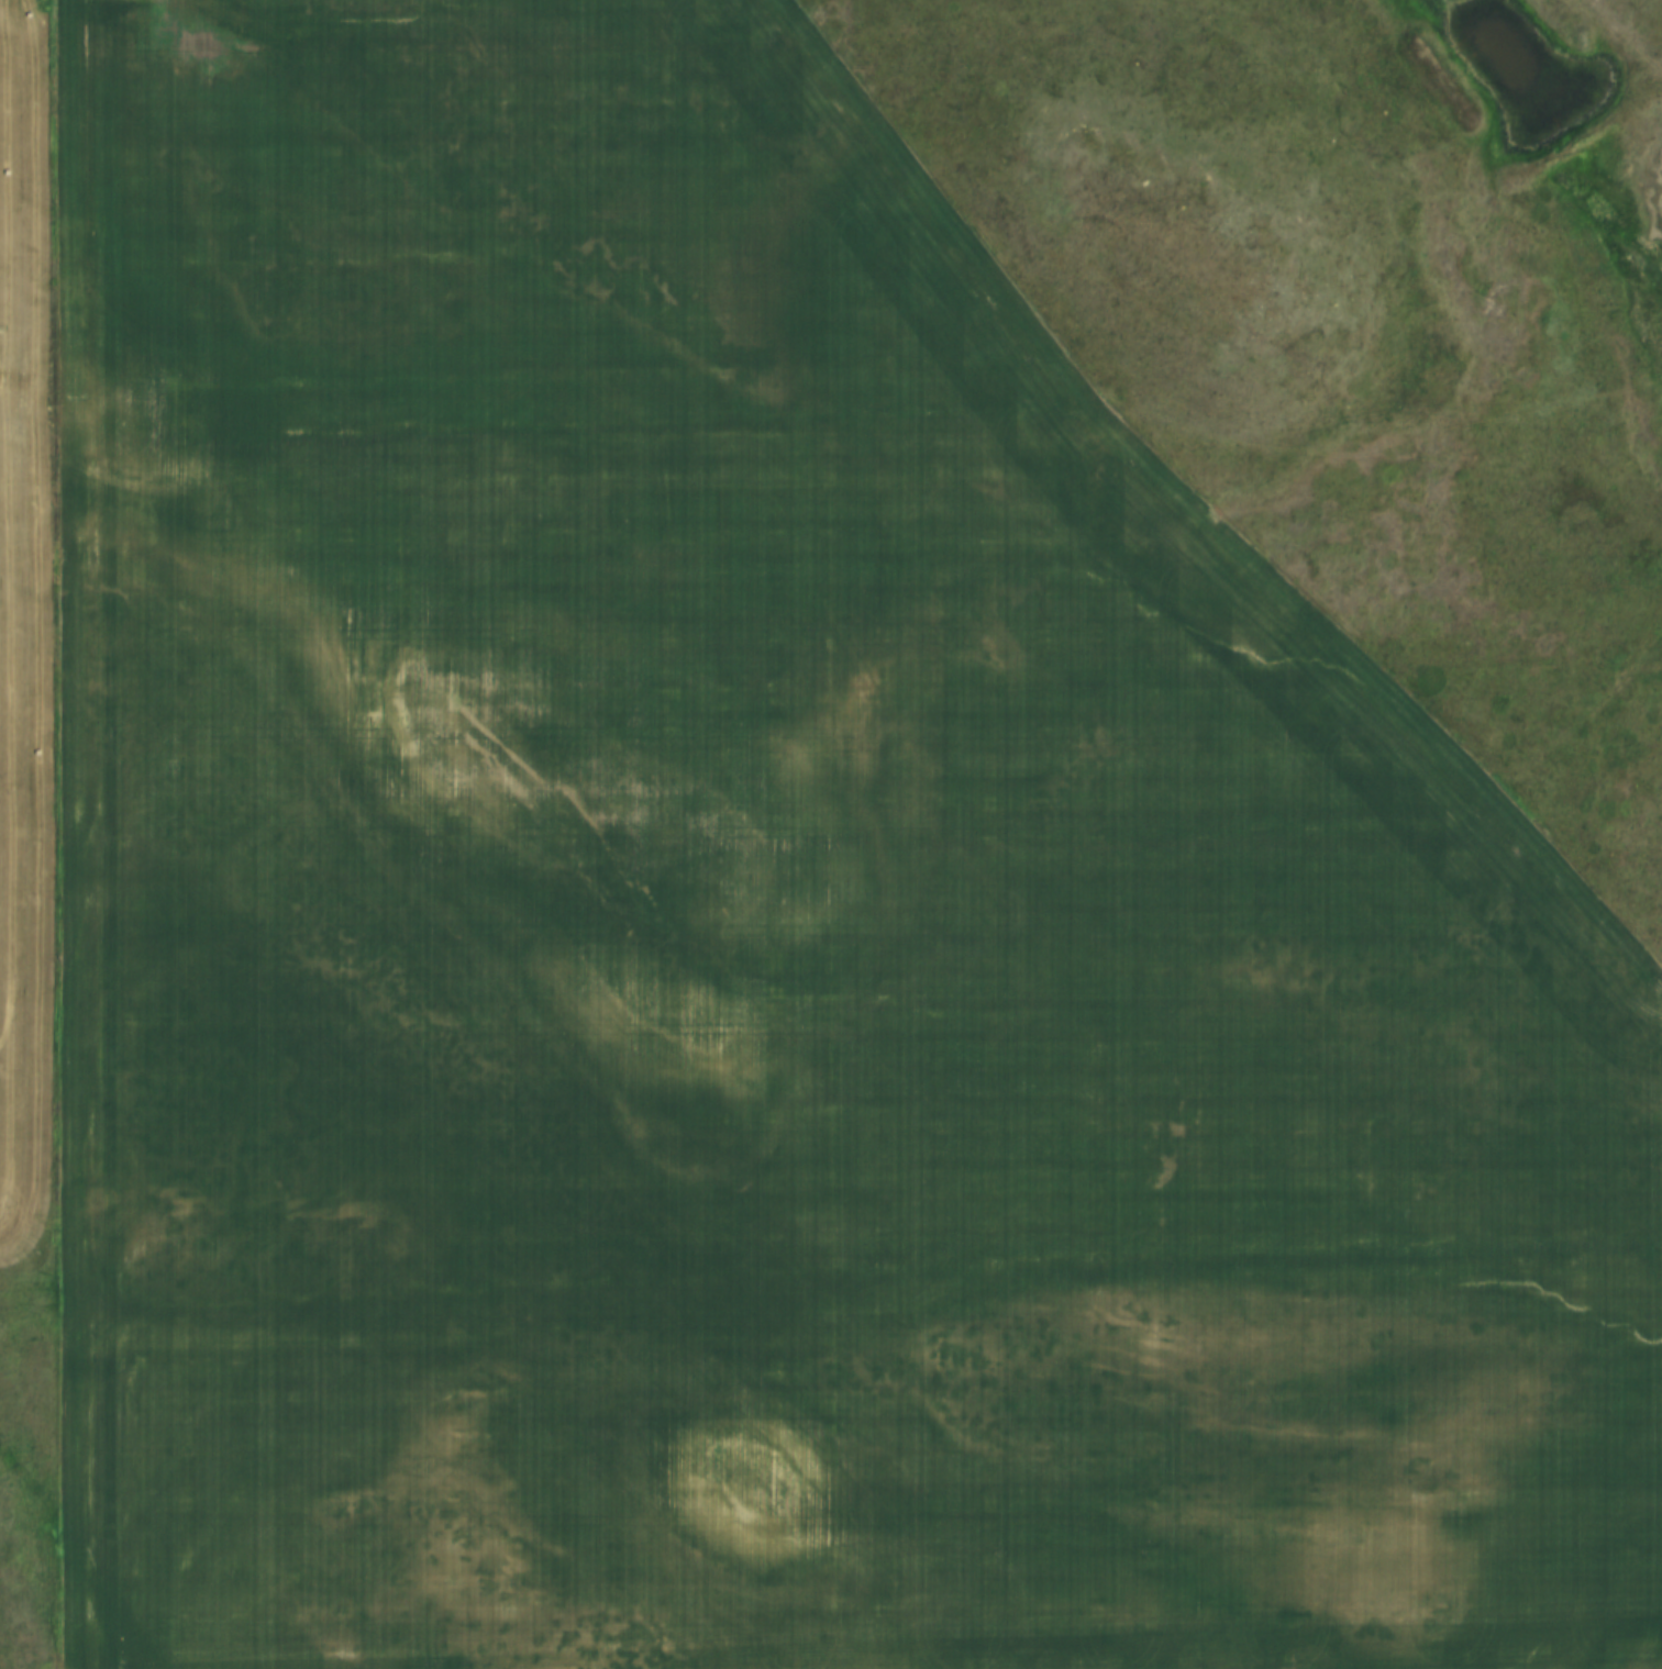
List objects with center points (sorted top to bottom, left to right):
road: (1135, 408)
road: (300, 453)
road: (1583, 723)

